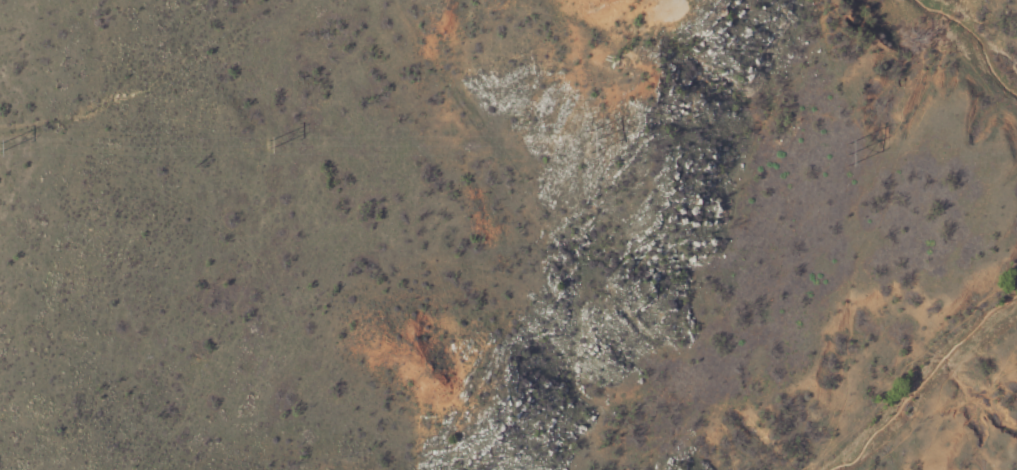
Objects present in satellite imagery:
power tower: (269, 143)
power tower: (1, 147)
power tower: (592, 147)
power tower: (846, 153)

